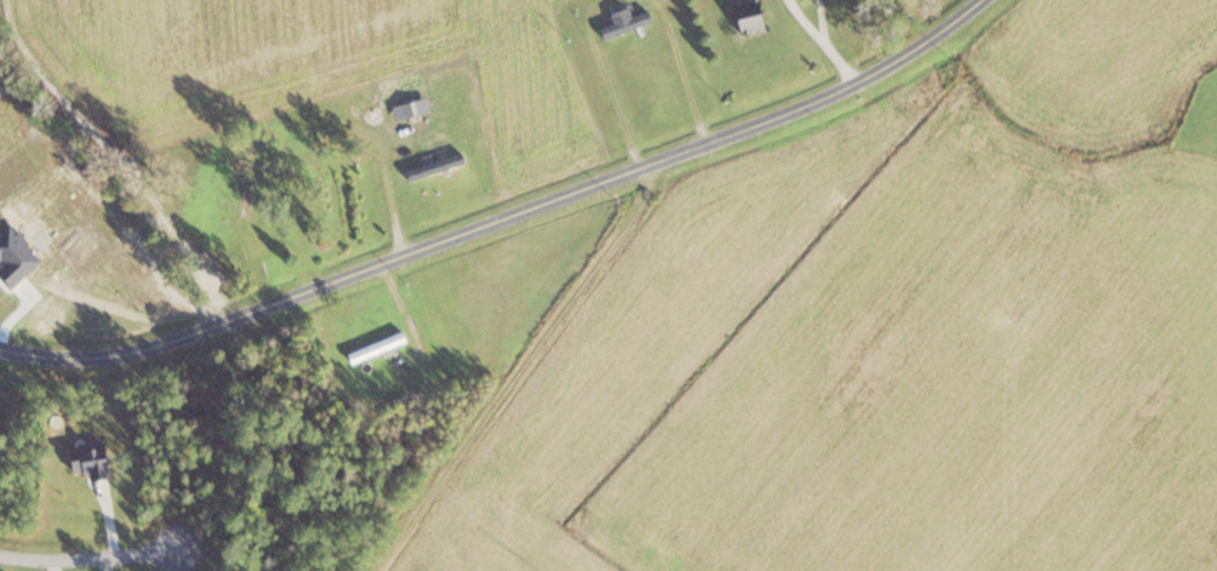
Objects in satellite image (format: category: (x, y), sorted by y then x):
building: (753, 16)
building: (627, 22)
building: (385, 114)
building: (400, 156)
road: (498, 212)
building: (378, 347)
road: (88, 564)

